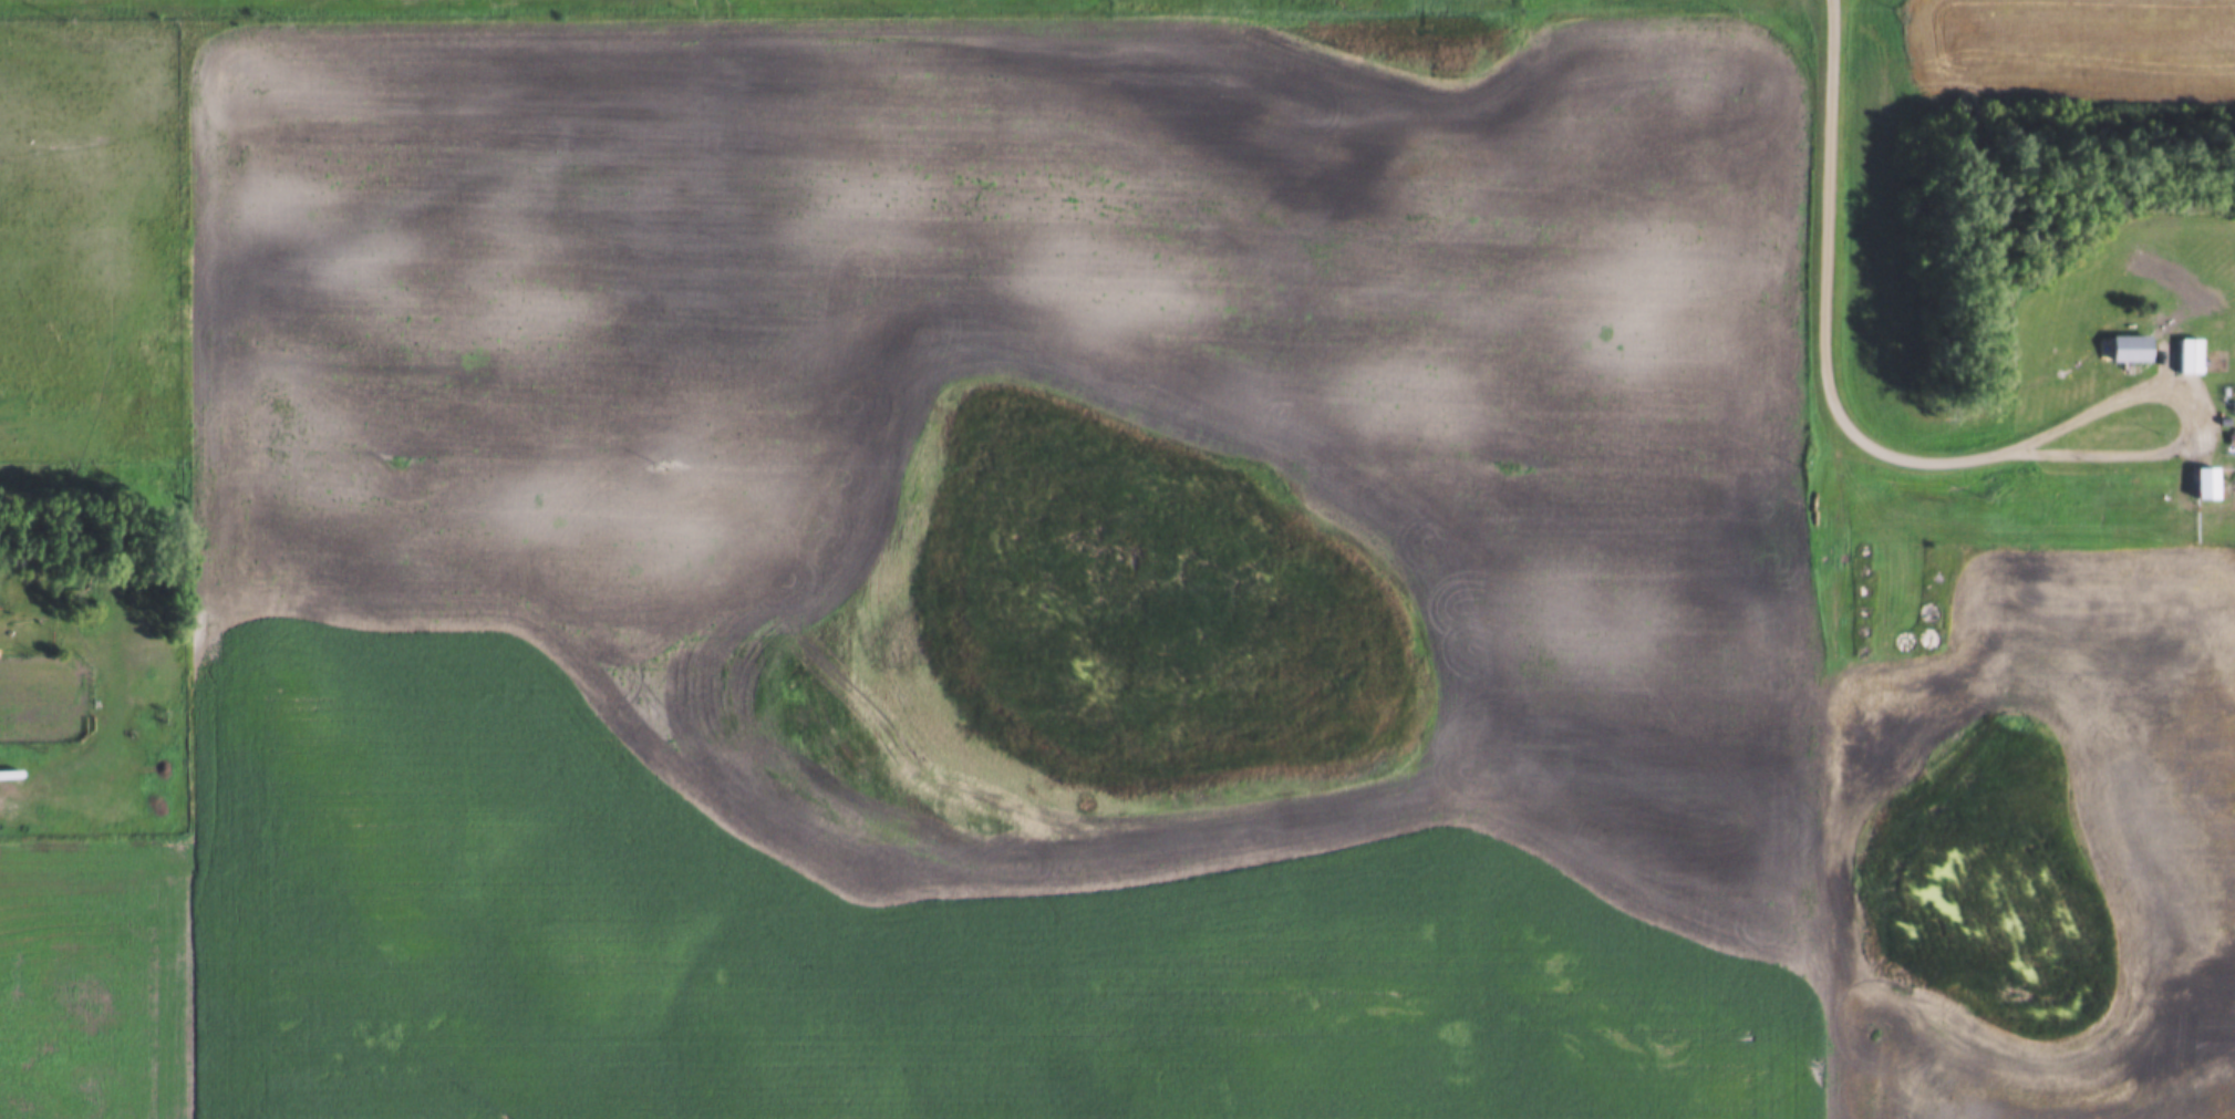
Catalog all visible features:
road: (1829, 308)
building: (2131, 350)
building: (2191, 358)
road: (2193, 406)

